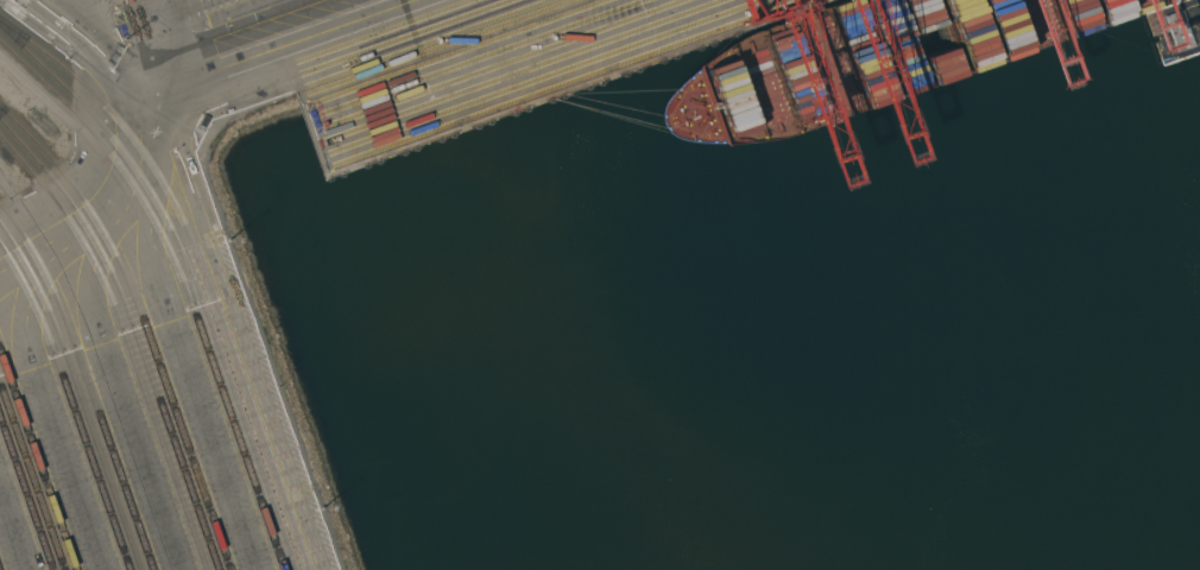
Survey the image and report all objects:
road: (184, 66)
railway: (90, 211)
railway: (201, 264)
railway: (190, 272)
railway: (183, 280)
railway: (134, 329)
railway: (126, 338)
railway: (87, 380)
railway: (80, 392)
railway: (71, 403)
railway: (189, 454)
railway: (39, 460)
railway: (32, 476)
railway: (26, 492)

